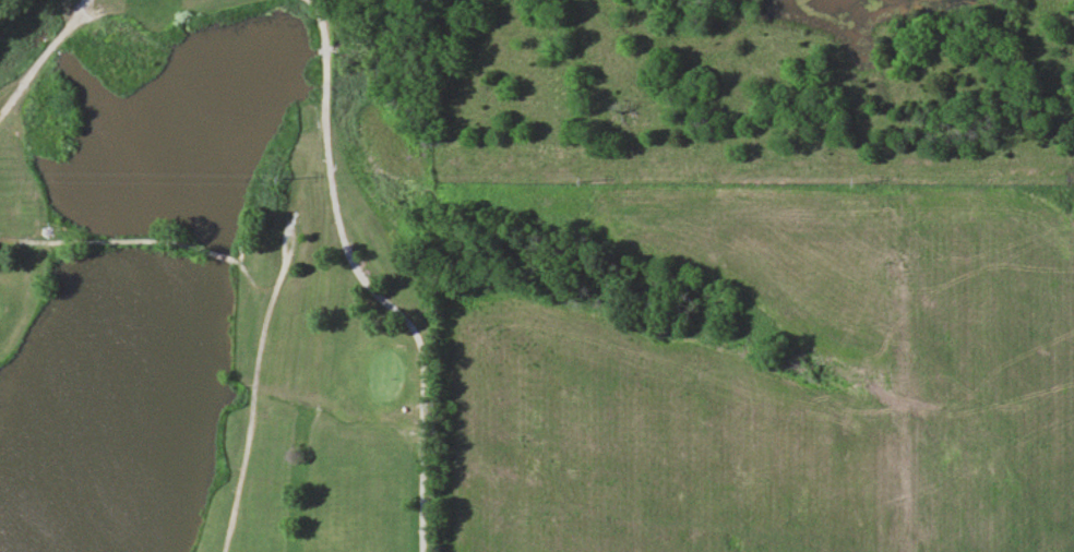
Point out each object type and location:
road: (50, 45)
road: (323, 117)
road: (422, 379)

